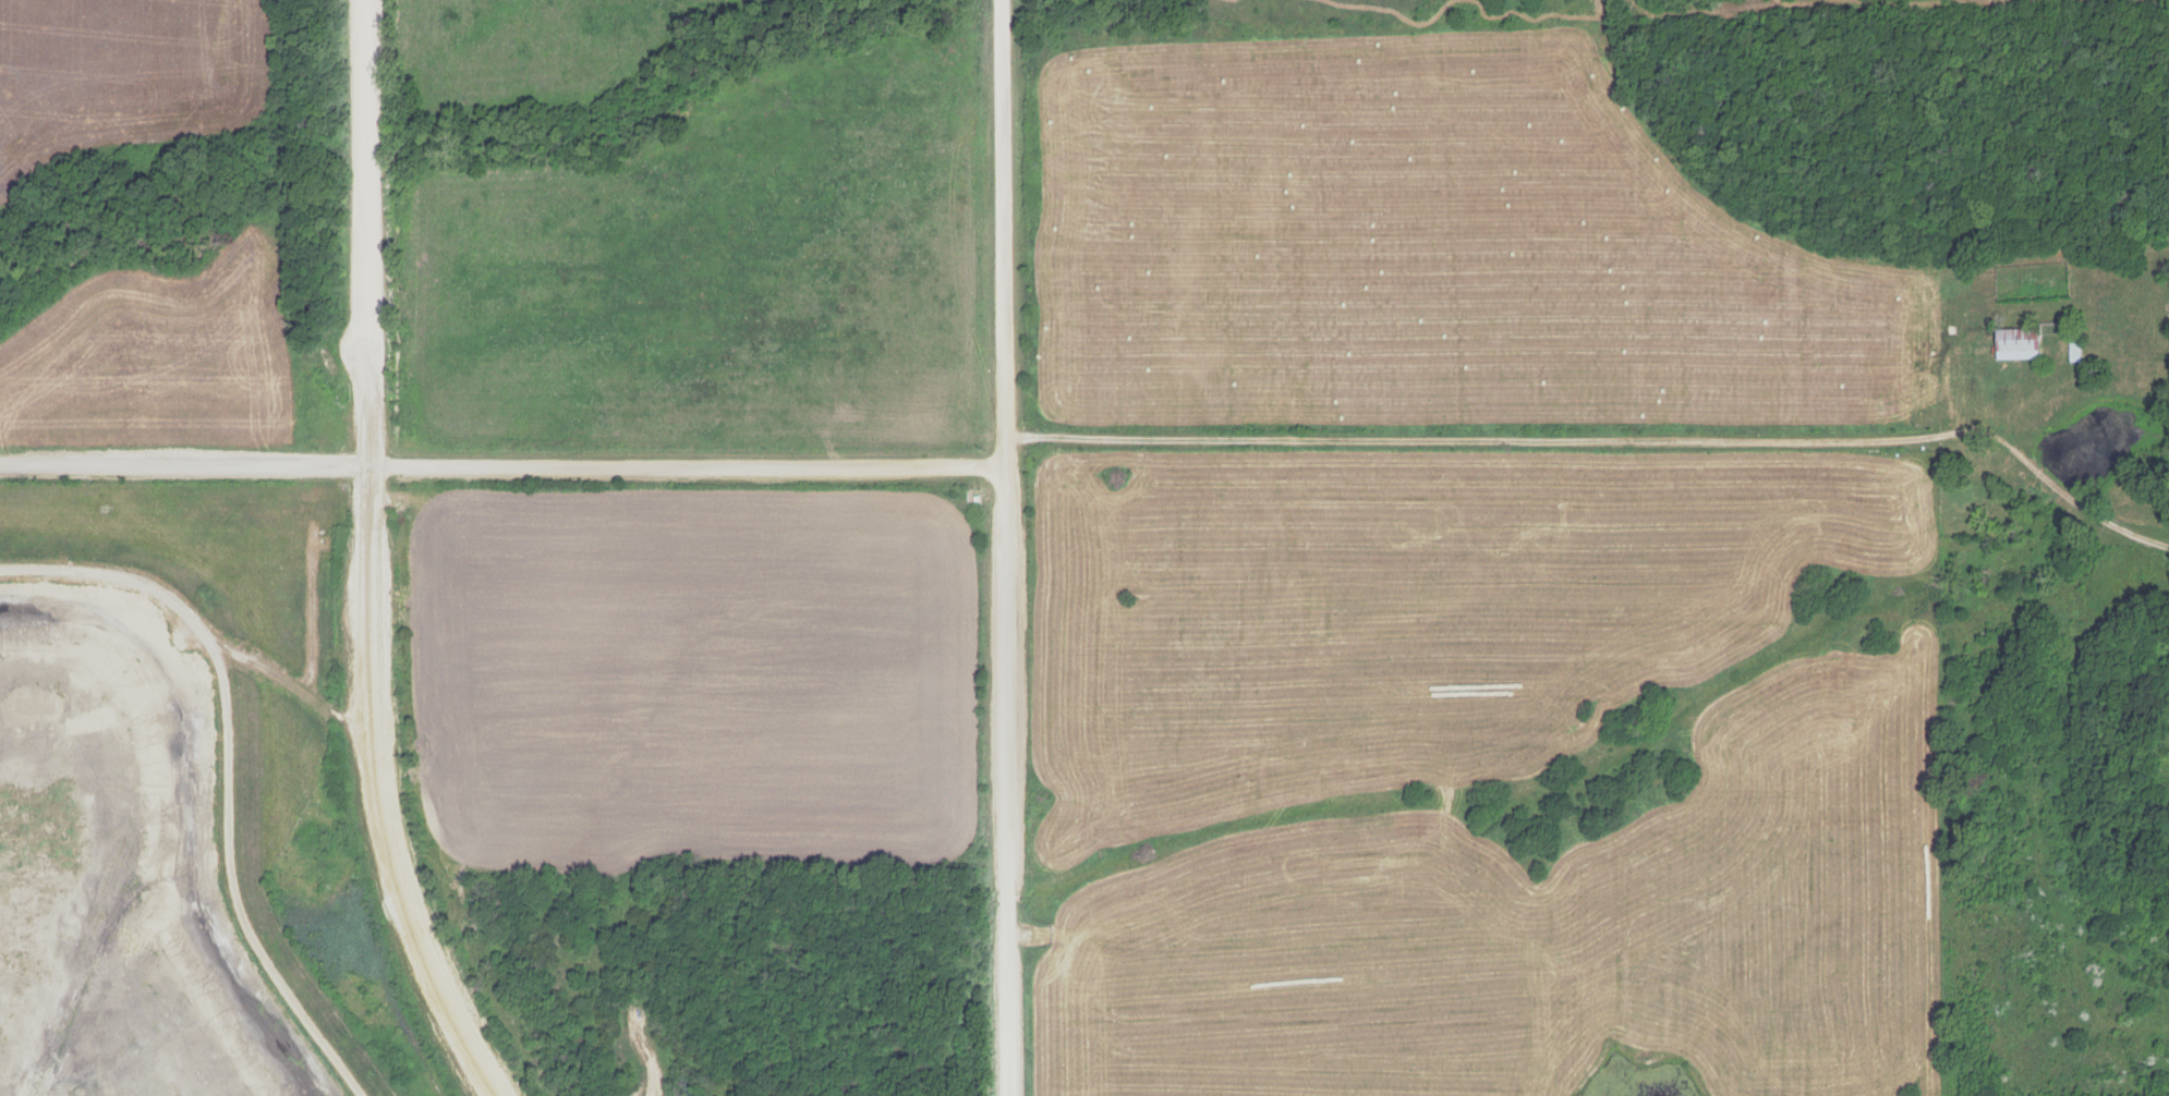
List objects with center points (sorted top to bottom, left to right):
building: (2017, 342)
building: (2073, 349)
road: (1612, 446)
road: (506, 471)
road: (1014, 547)
road: (375, 561)
road: (202, 614)
road: (240, 891)

